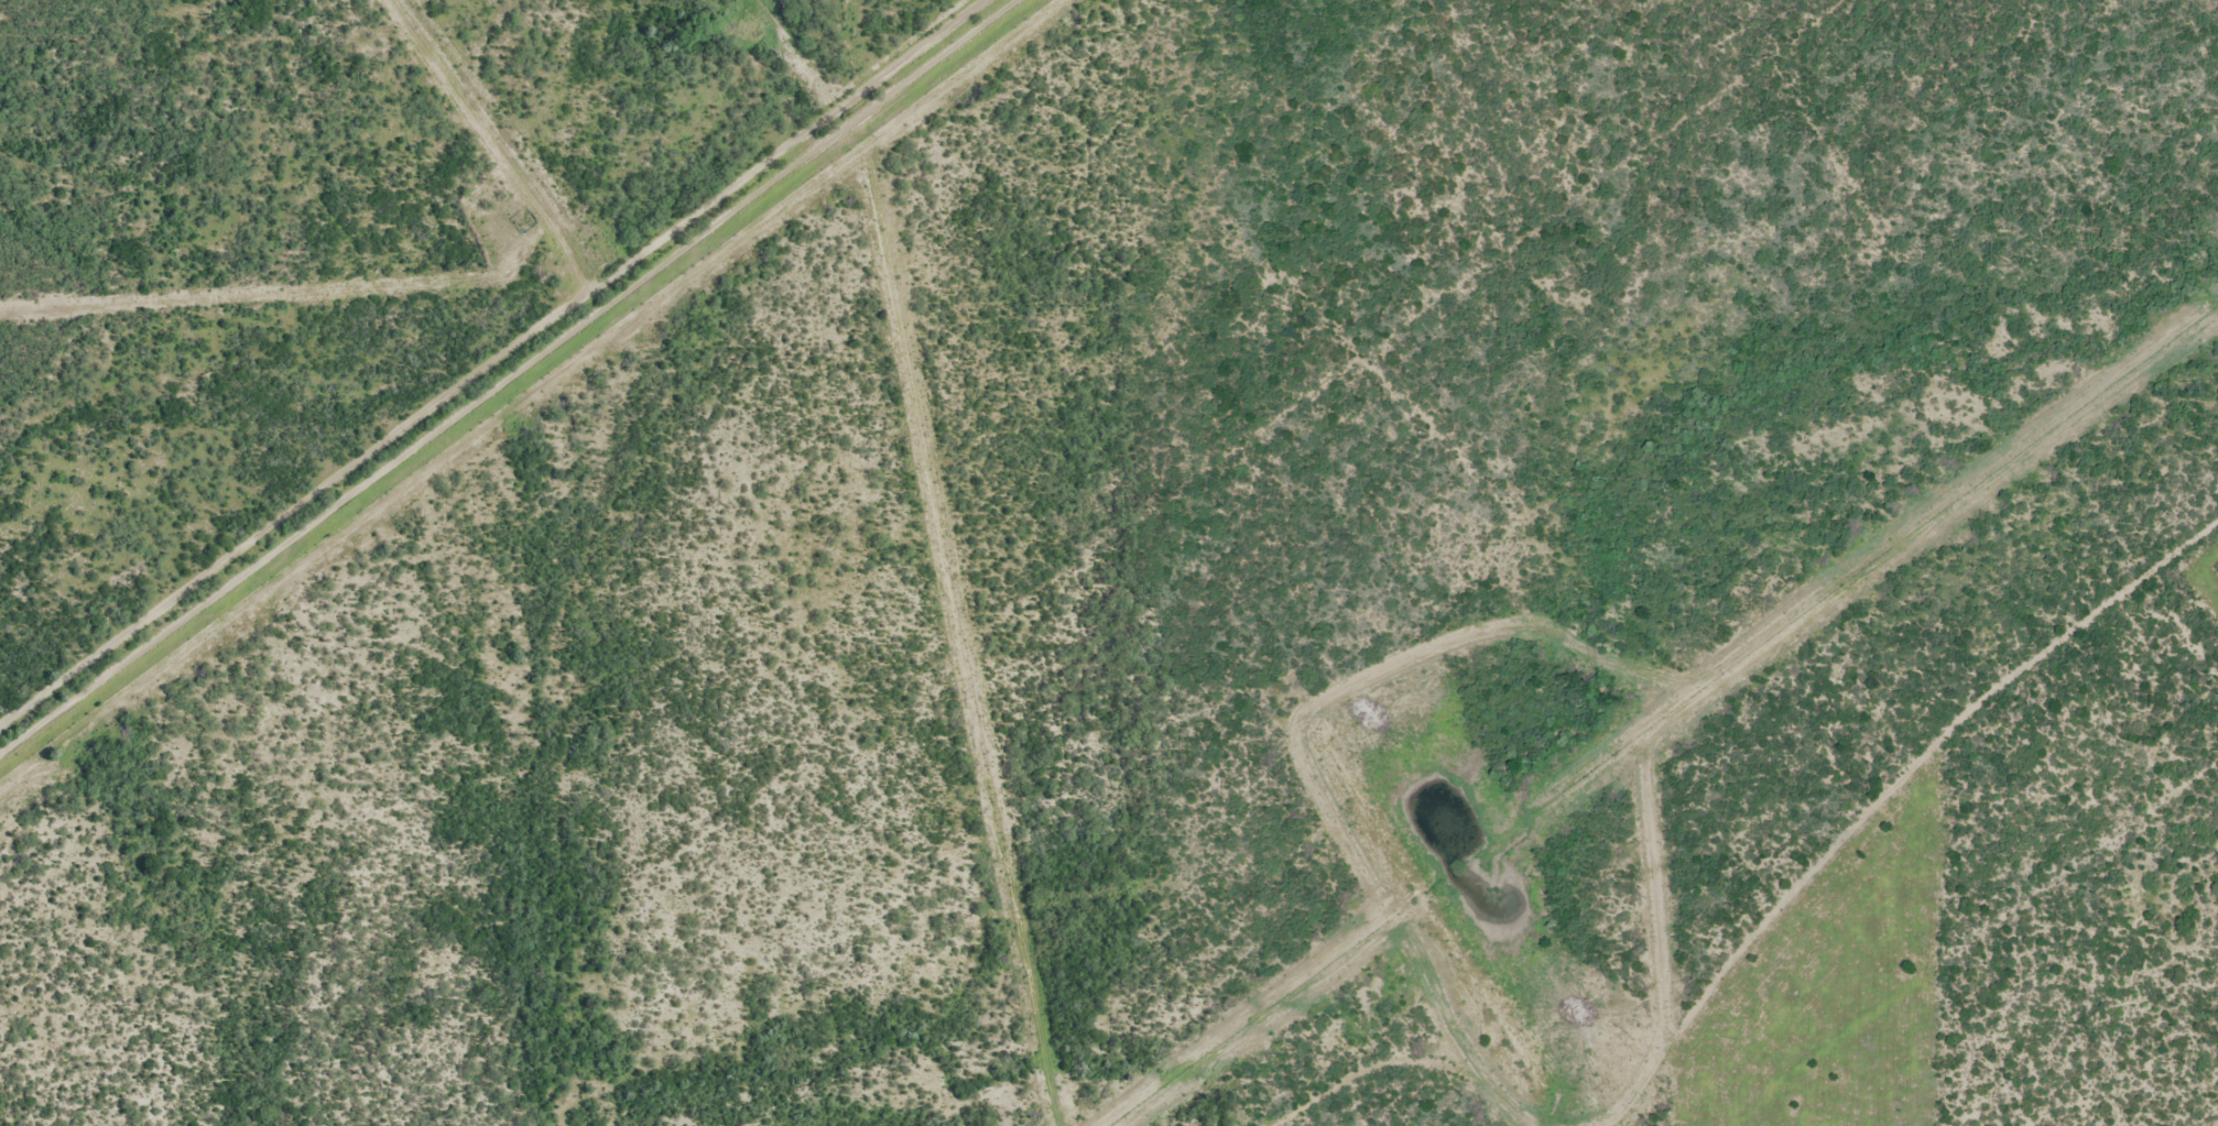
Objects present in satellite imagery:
road: (511, 379)

